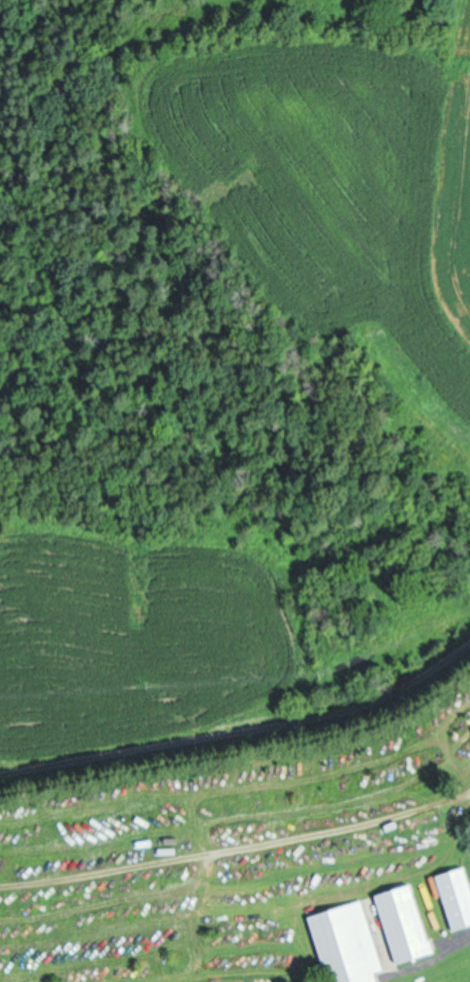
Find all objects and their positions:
road: (243, 730)
building: (455, 890)
building: (346, 940)
road: (430, 959)

